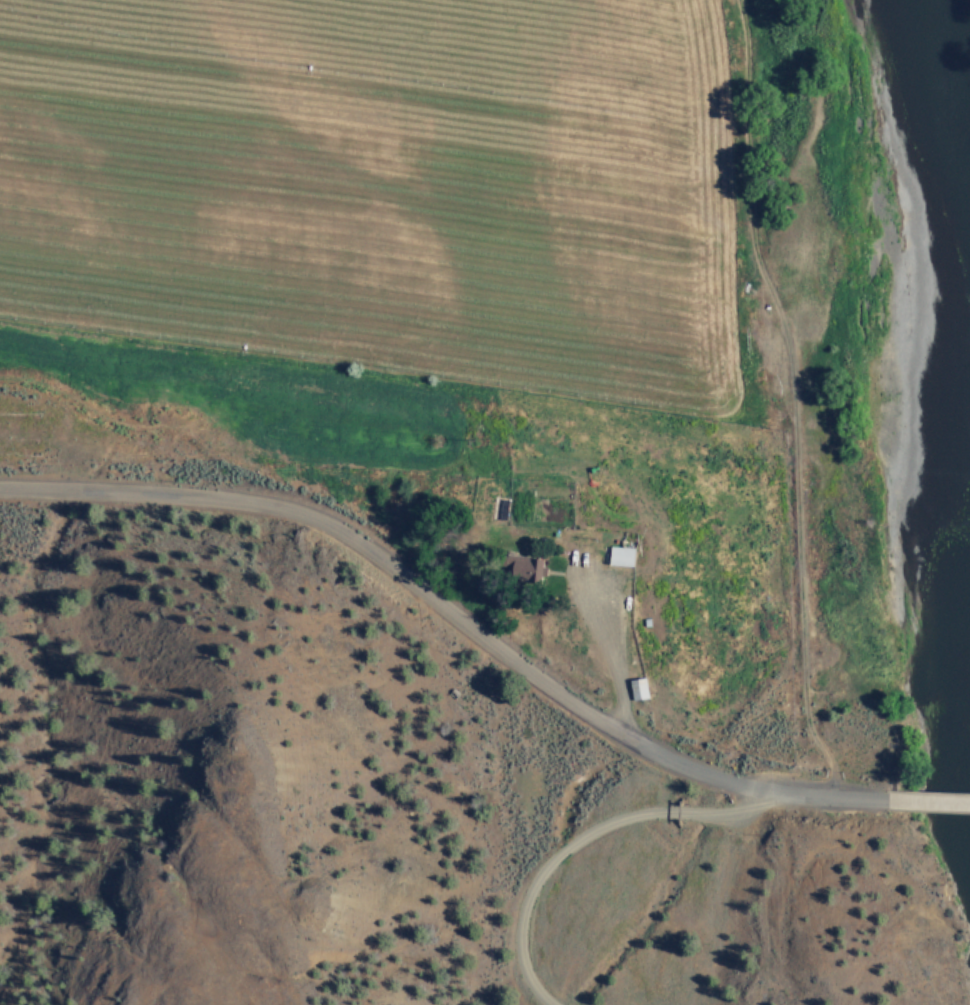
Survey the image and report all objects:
river: (934, 116)
building: (623, 553)
building: (526, 566)
road: (392, 579)
building: (639, 687)
road: (819, 798)
road: (929, 803)
road: (694, 897)

